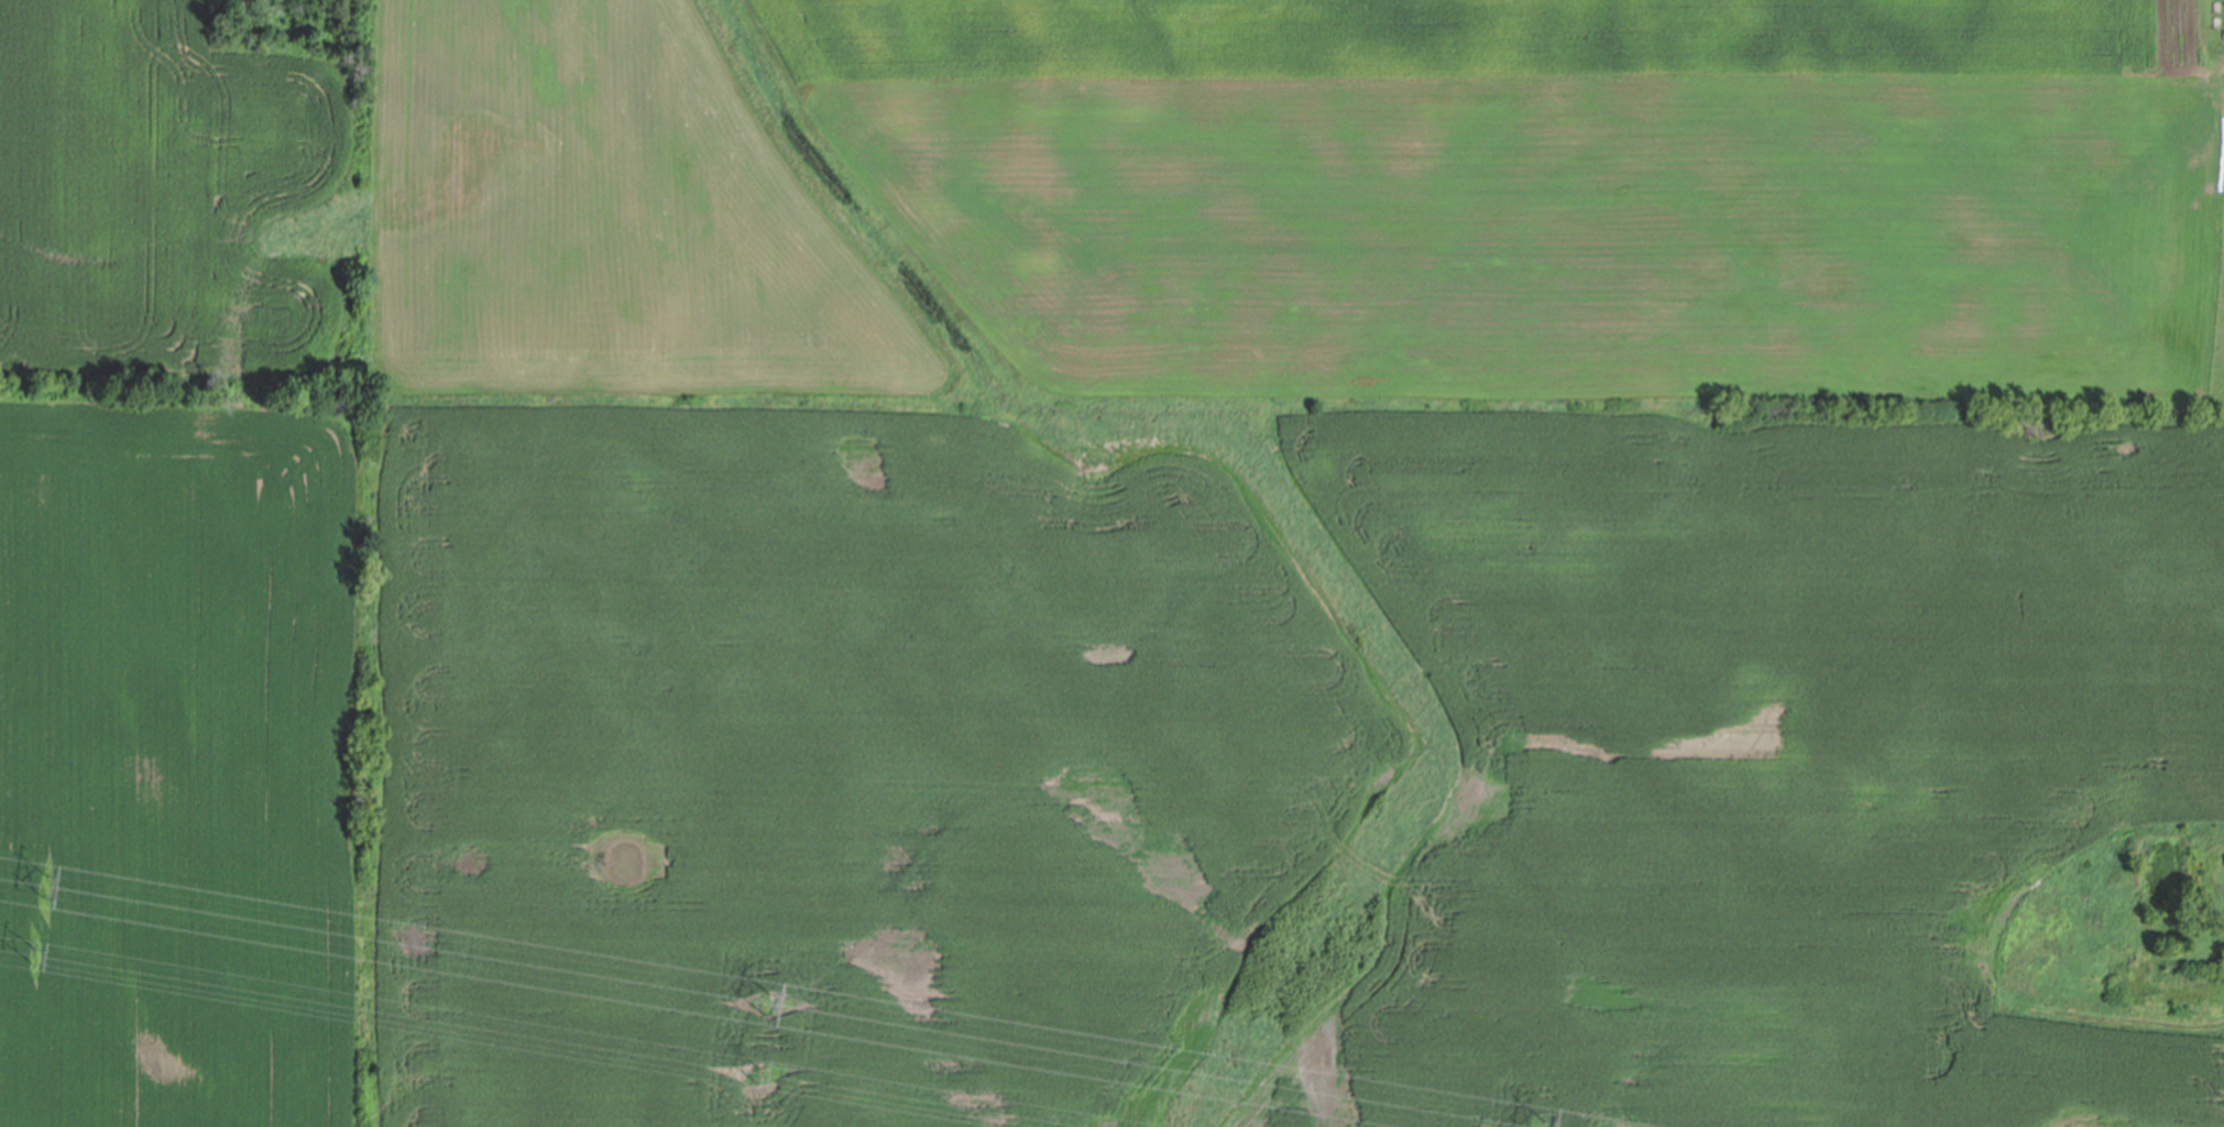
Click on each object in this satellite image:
power tower: (48, 880)
power tower: (32, 953)
power tower: (769, 1003)
power tower: (754, 1074)

